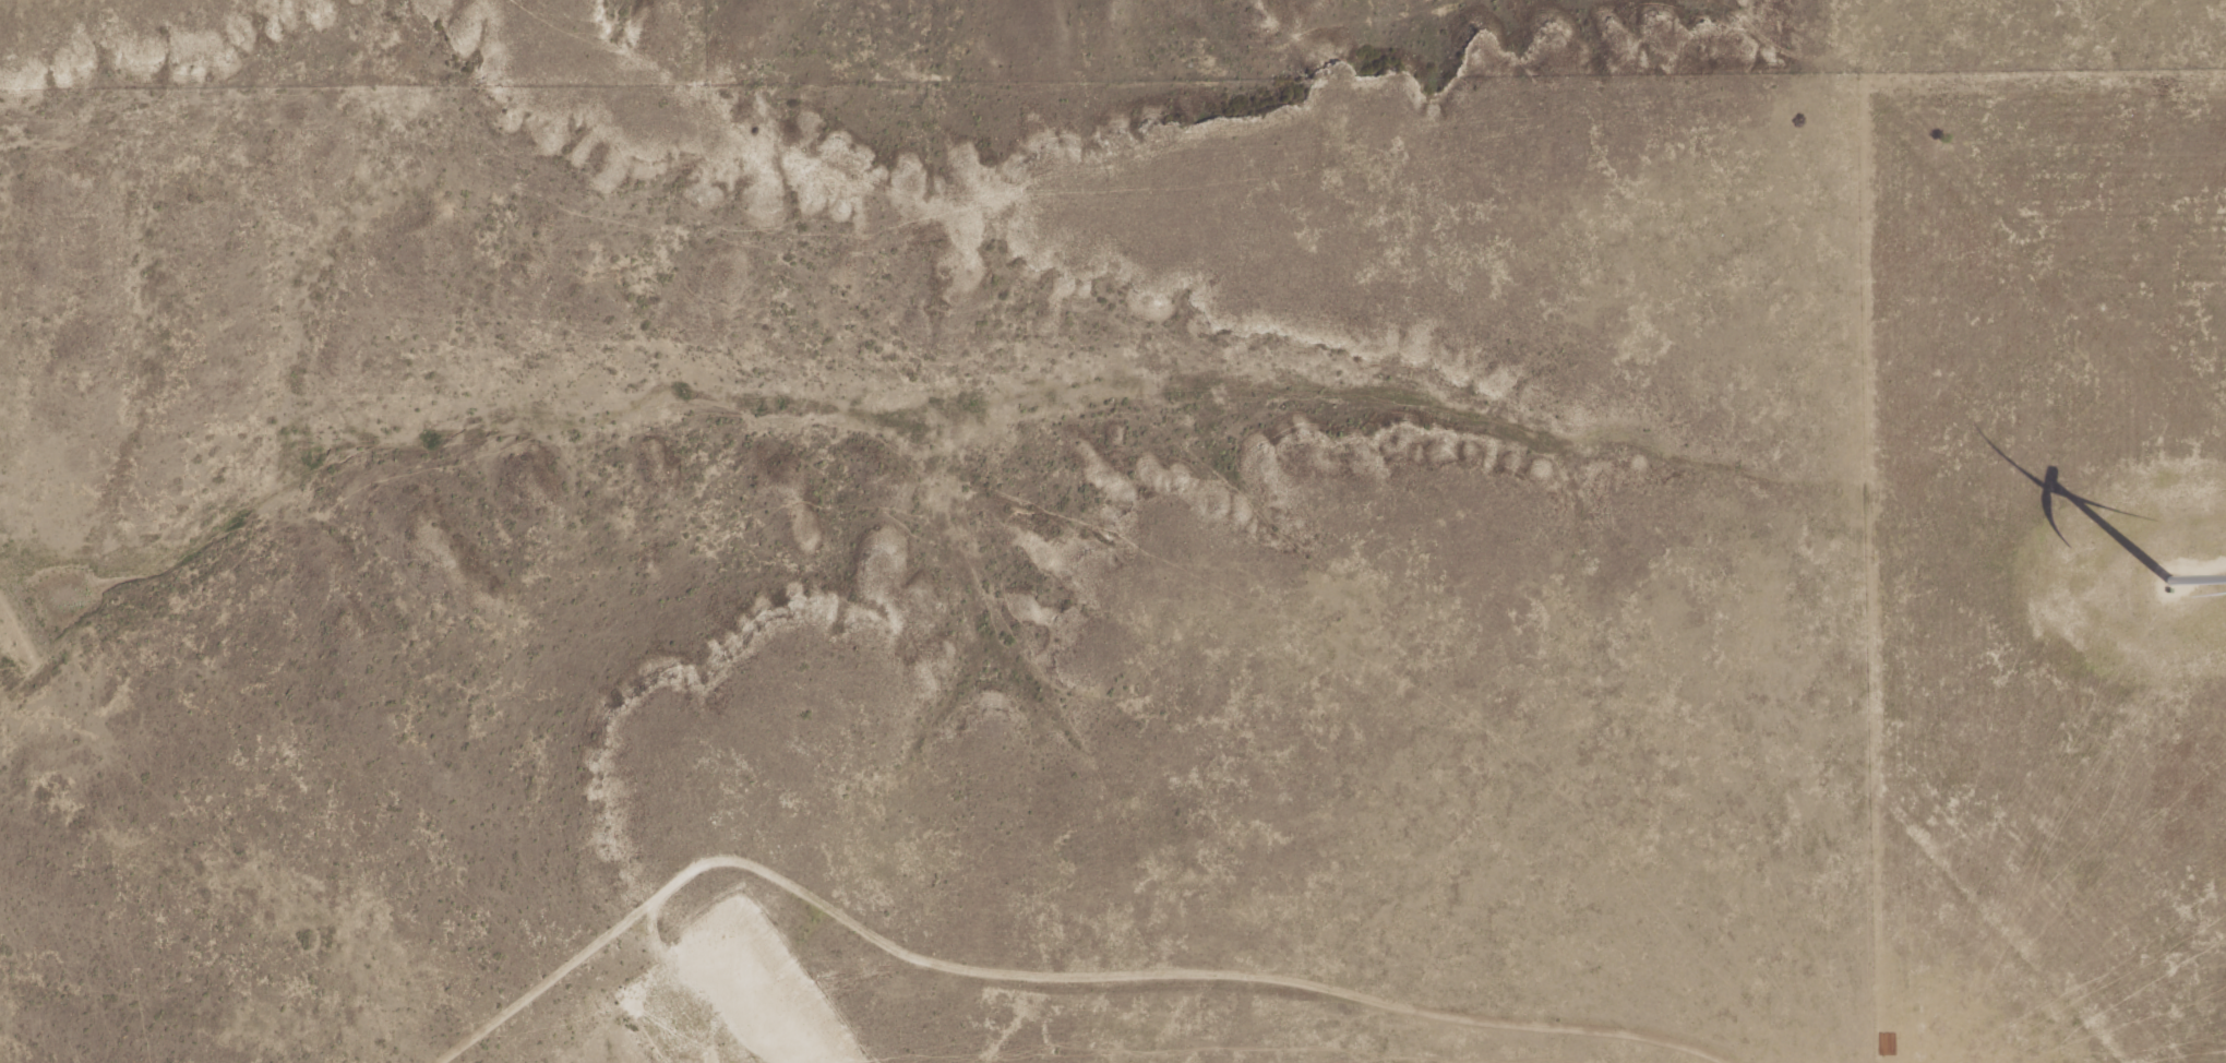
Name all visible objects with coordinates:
wind turbine: (2168, 583)

